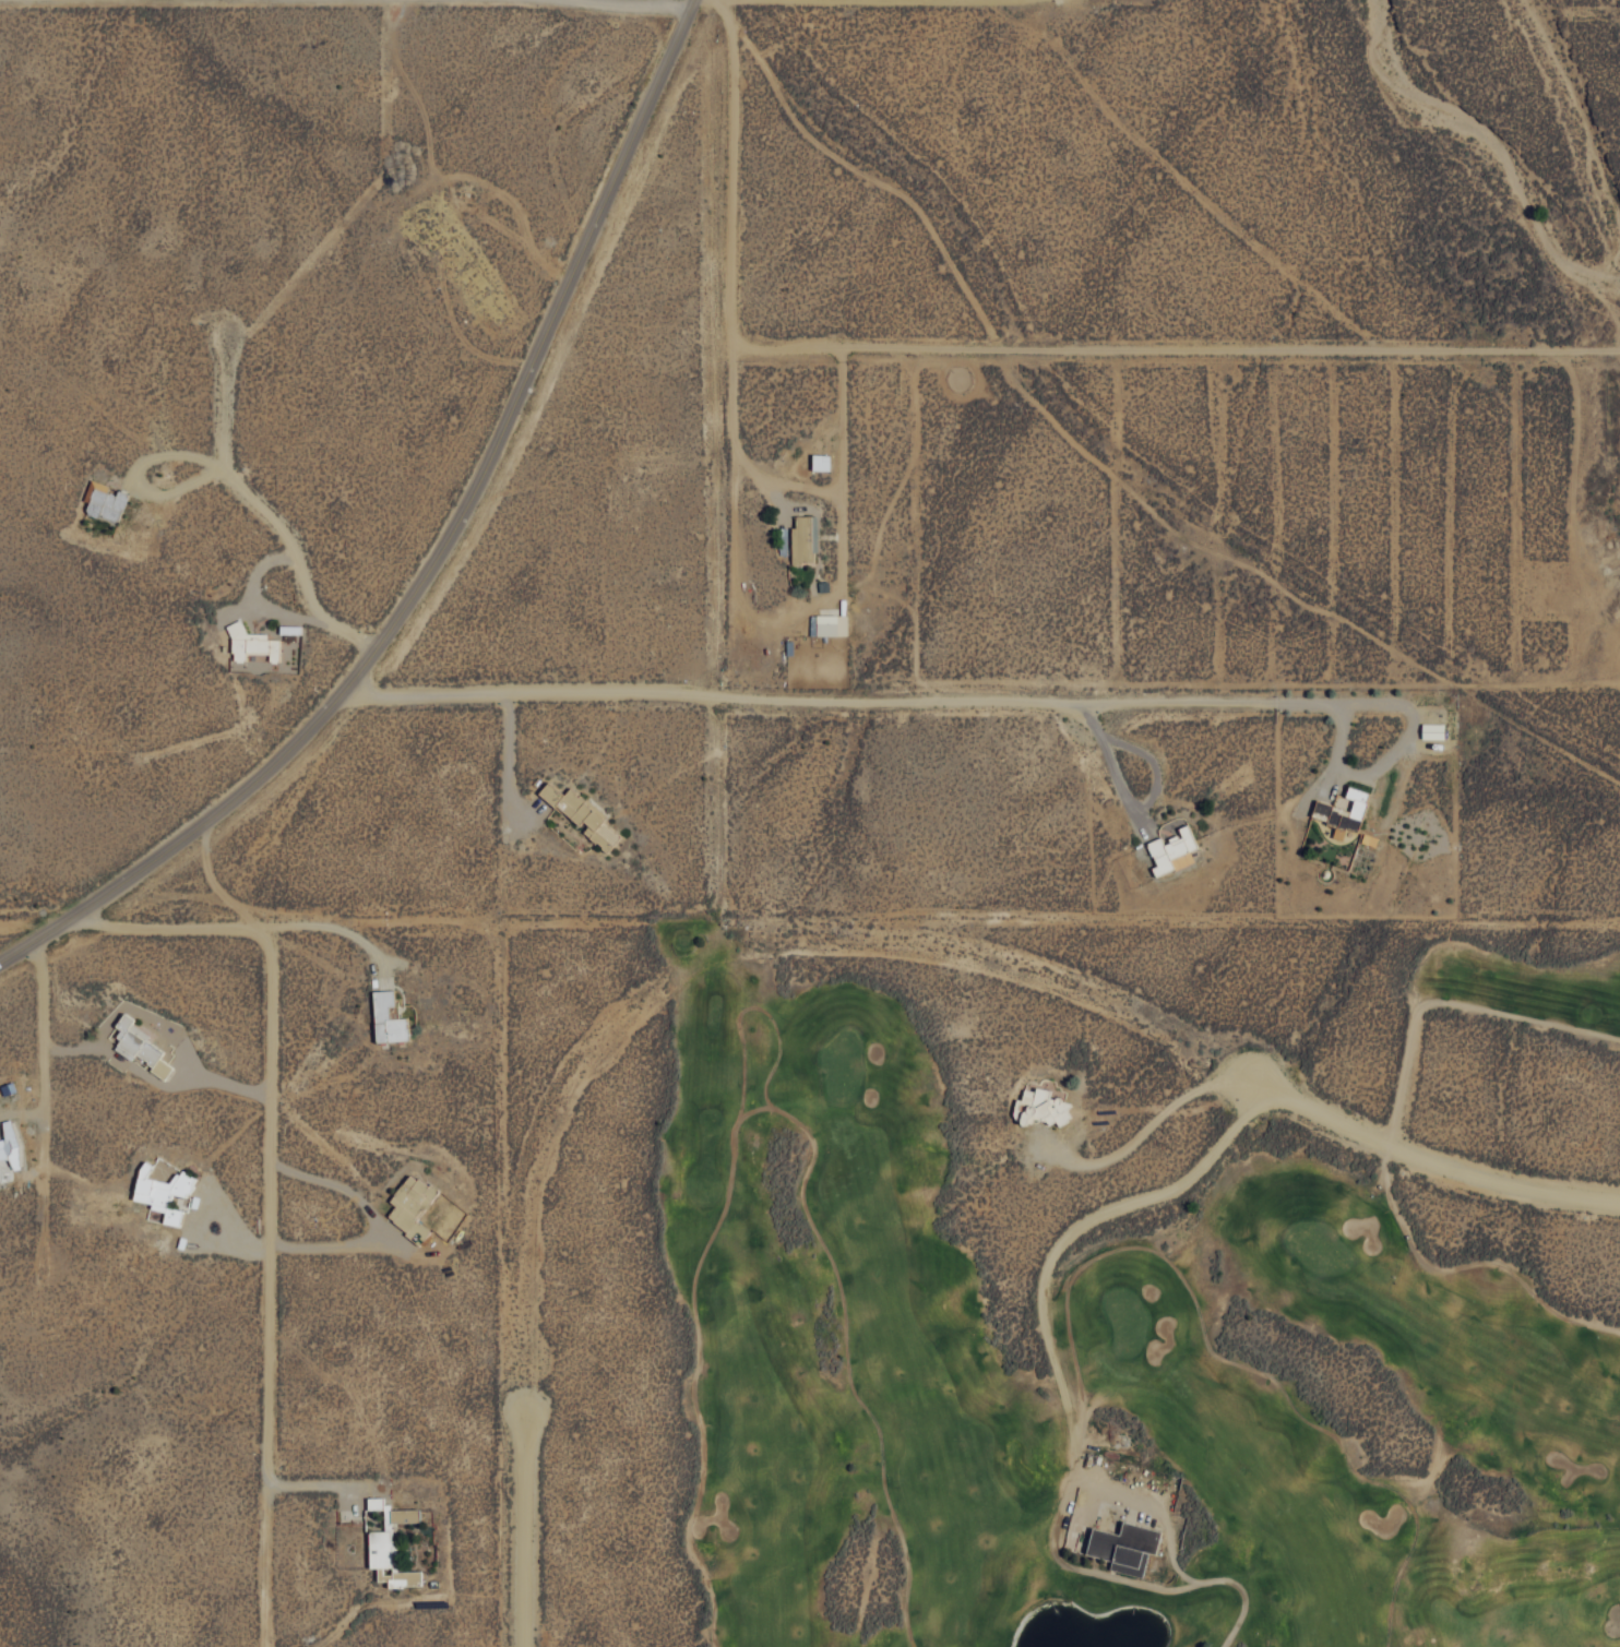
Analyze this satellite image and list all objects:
road: (635, 4)
building: (820, 462)
building: (103, 501)
building: (803, 539)
road: (437, 549)
building: (827, 624)
building: (250, 644)
building: (287, 654)
road: (883, 695)
building: (1431, 730)
building: (1342, 810)
building: (1171, 850)
building: (386, 1017)
building: (132, 1040)
building: (1041, 1108)
building: (8, 1142)
road: (1433, 1163)
road: (263, 1180)
building: (160, 1187)
building: (408, 1201)
park: (1128, 1279)
building: (391, 1512)
road: (525, 1527)
building: (388, 1560)

